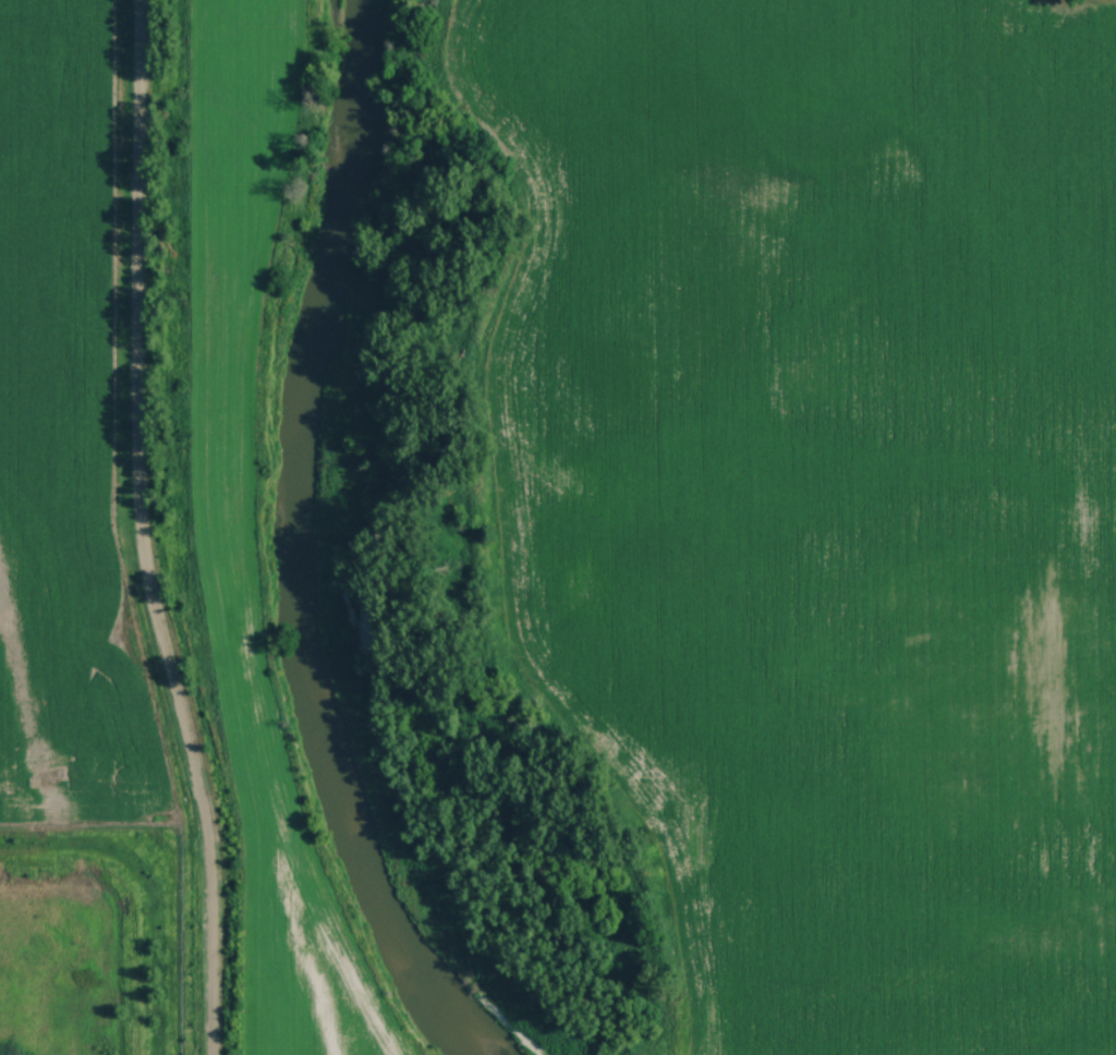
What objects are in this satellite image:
river: (296, 547)

